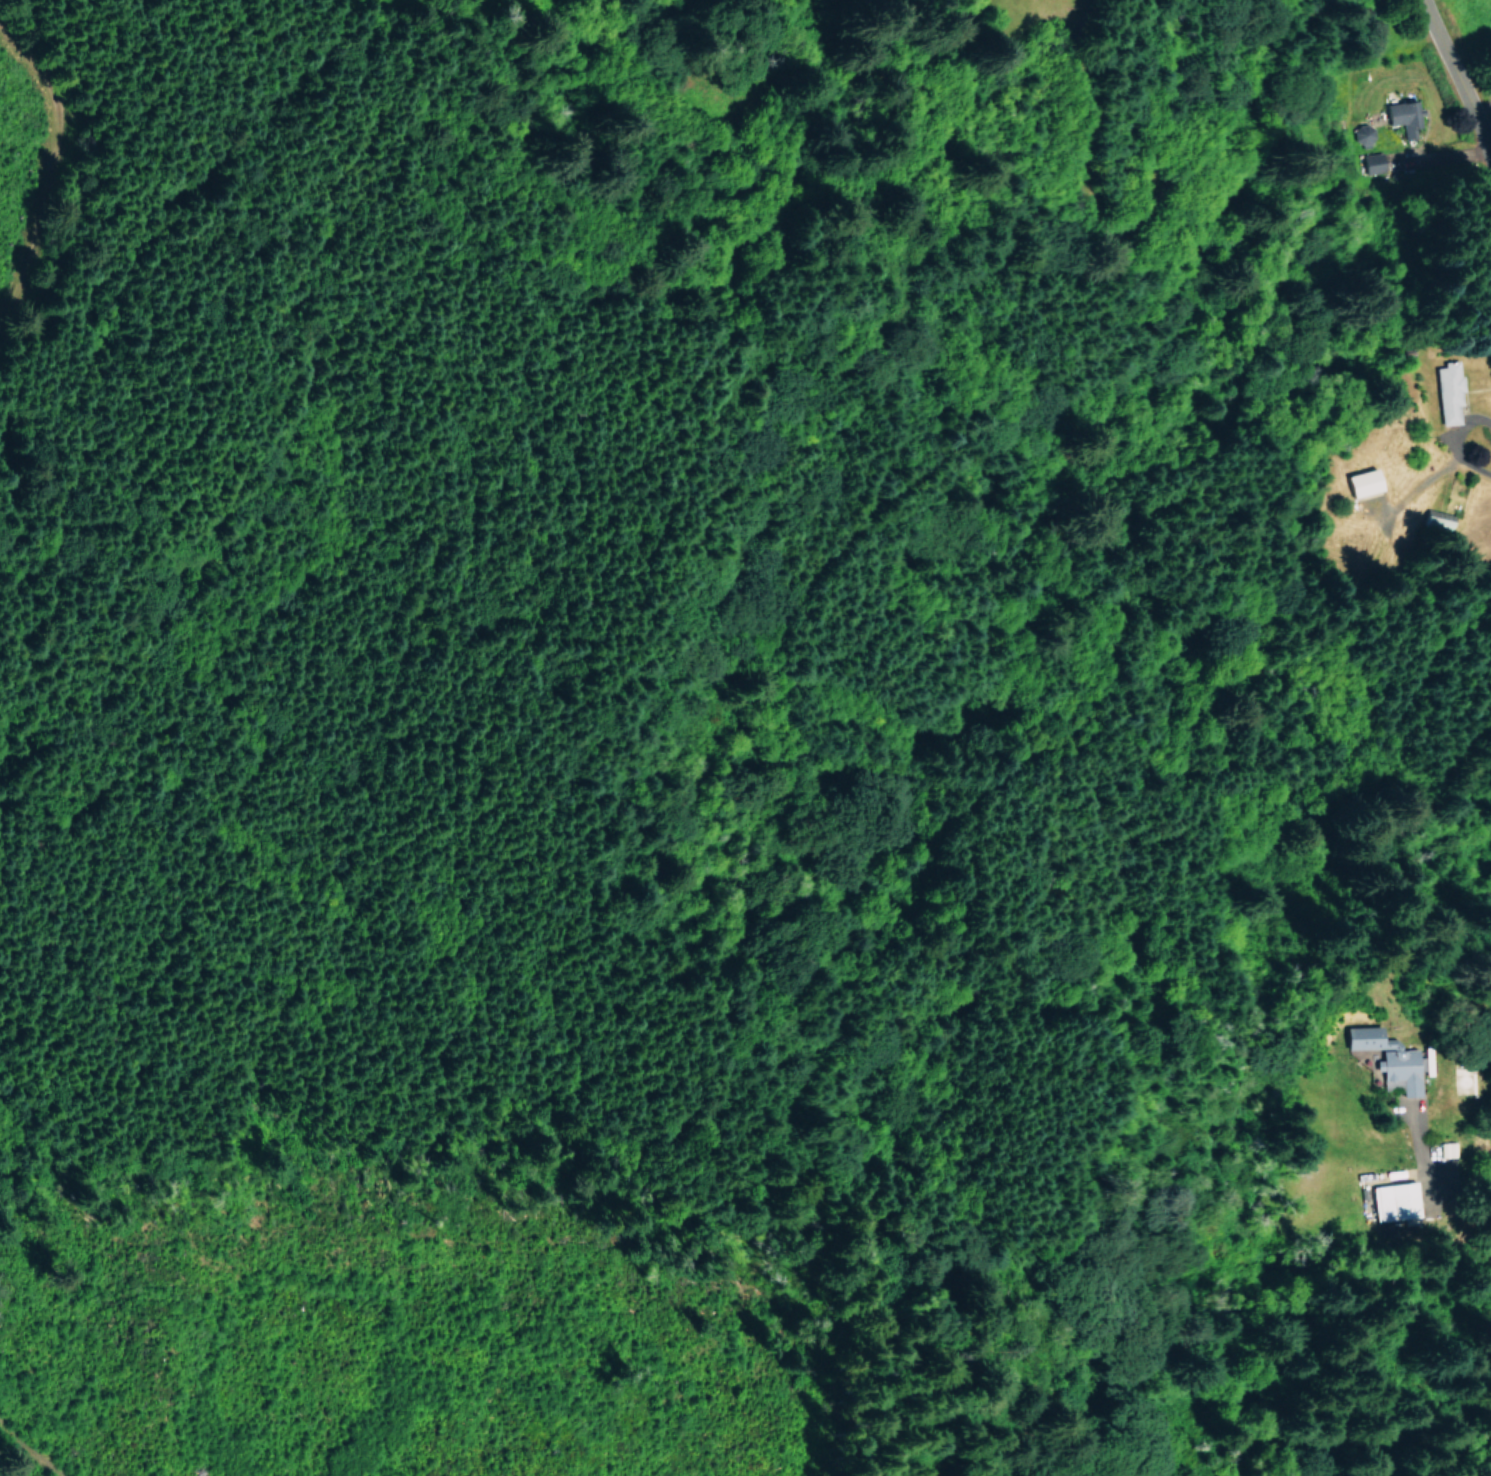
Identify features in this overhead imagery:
road: (1464, 86)
building: (1400, 115)
building: (1360, 135)
building: (1370, 163)
building: (1446, 391)
building: (1360, 481)
building: (1436, 519)
building: (1385, 1057)
building: (1391, 1201)

